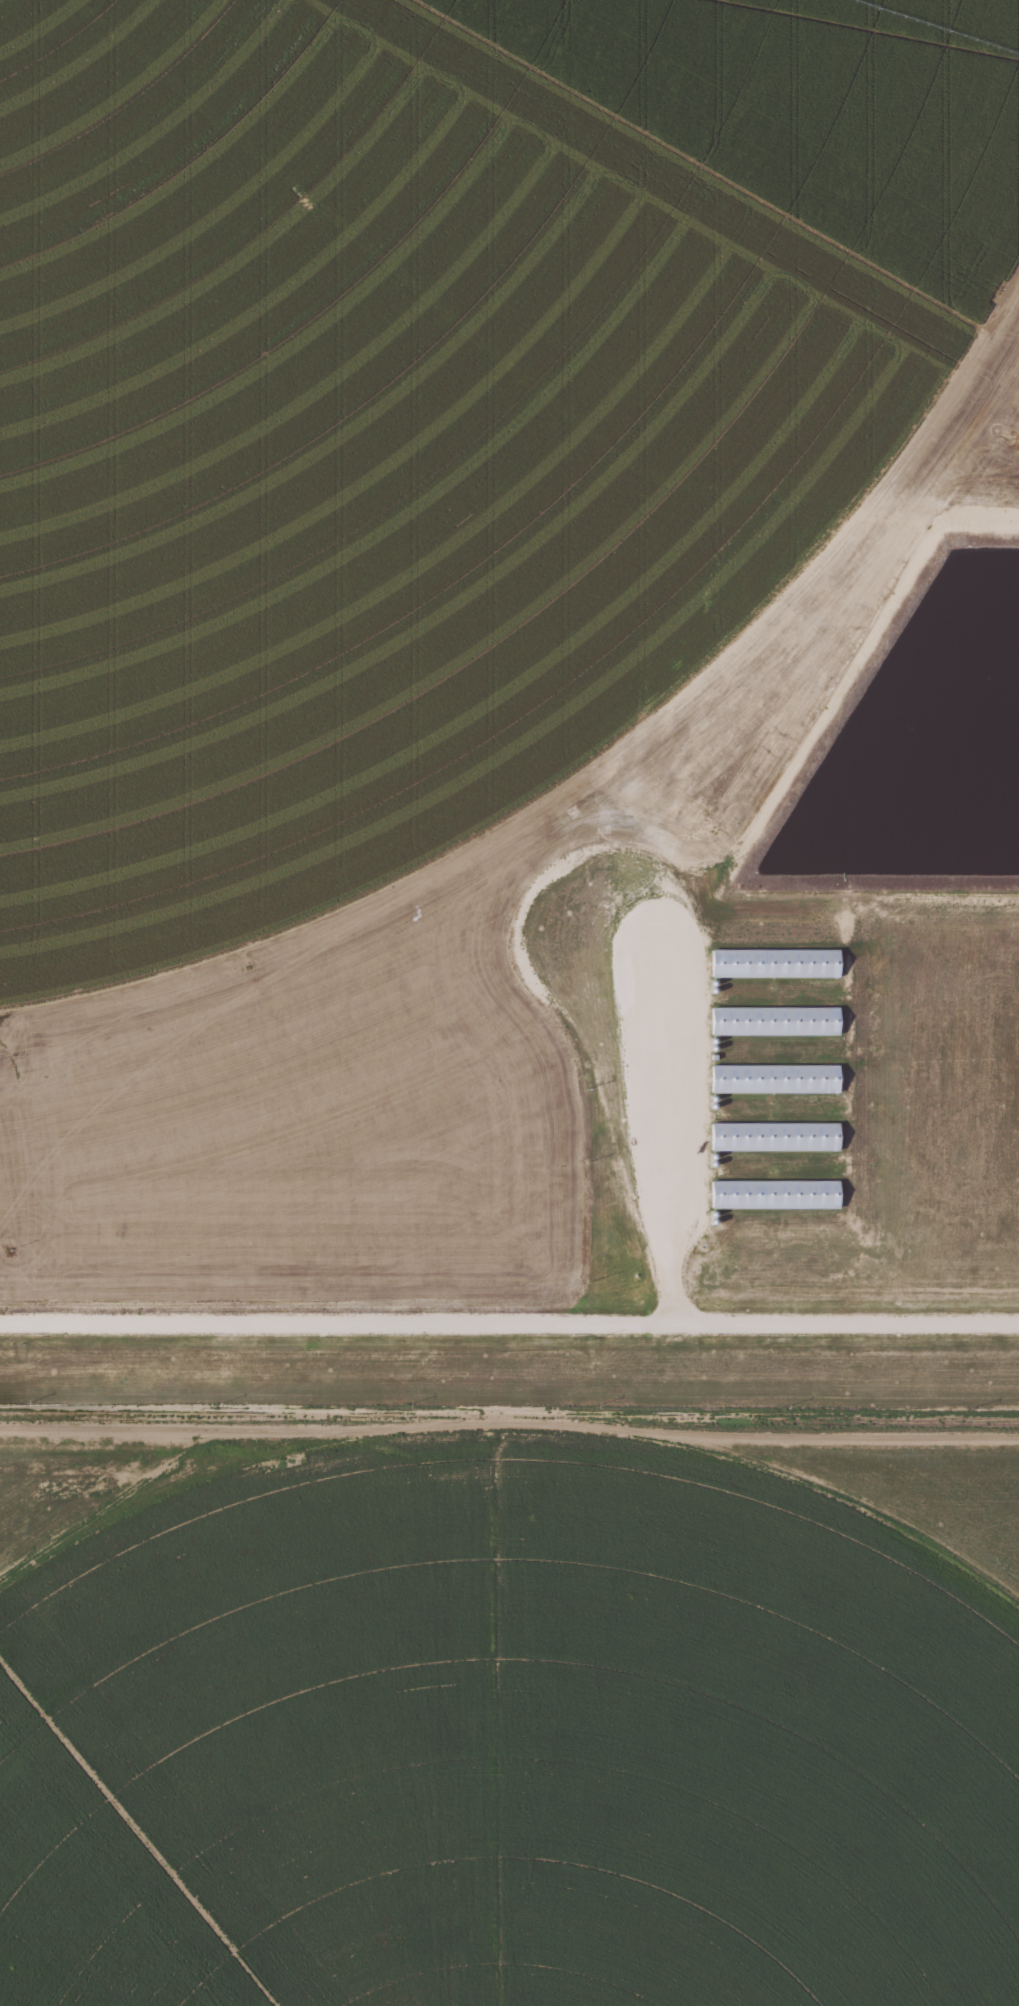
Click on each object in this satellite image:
building: (775, 1078)

